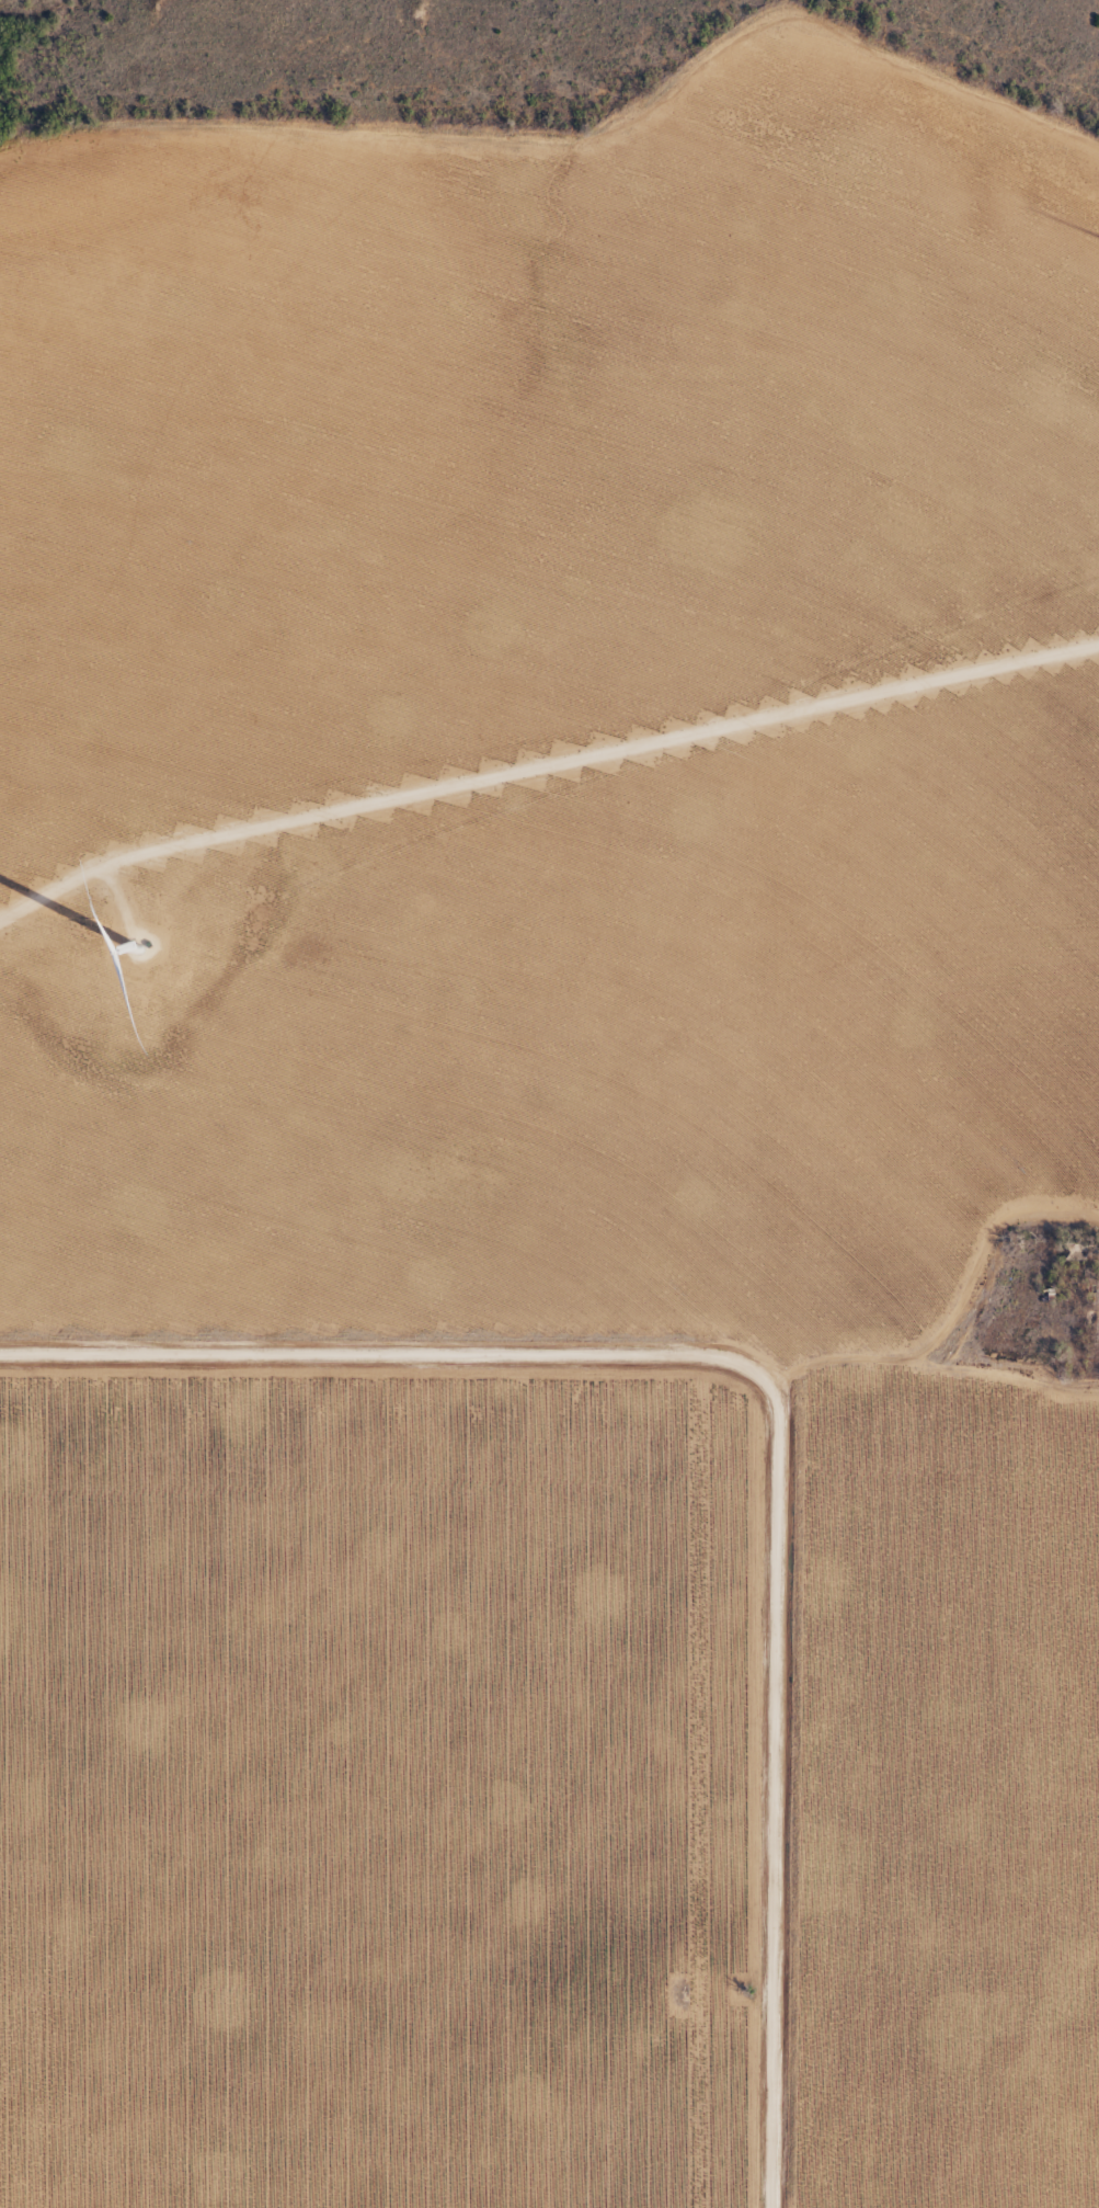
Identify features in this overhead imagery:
wind turbine: (148, 947)
road: (412, 1354)
road: (781, 1818)

